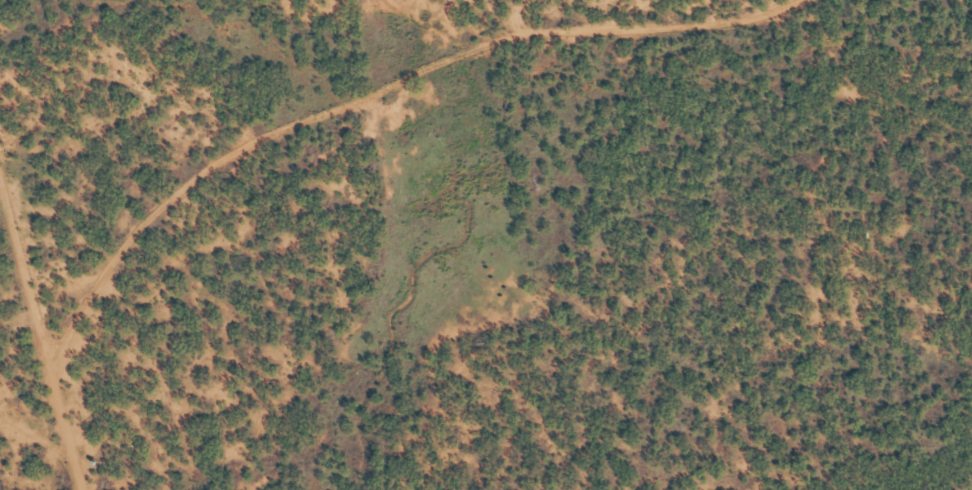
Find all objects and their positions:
road: (944, 90)
road: (920, 480)

